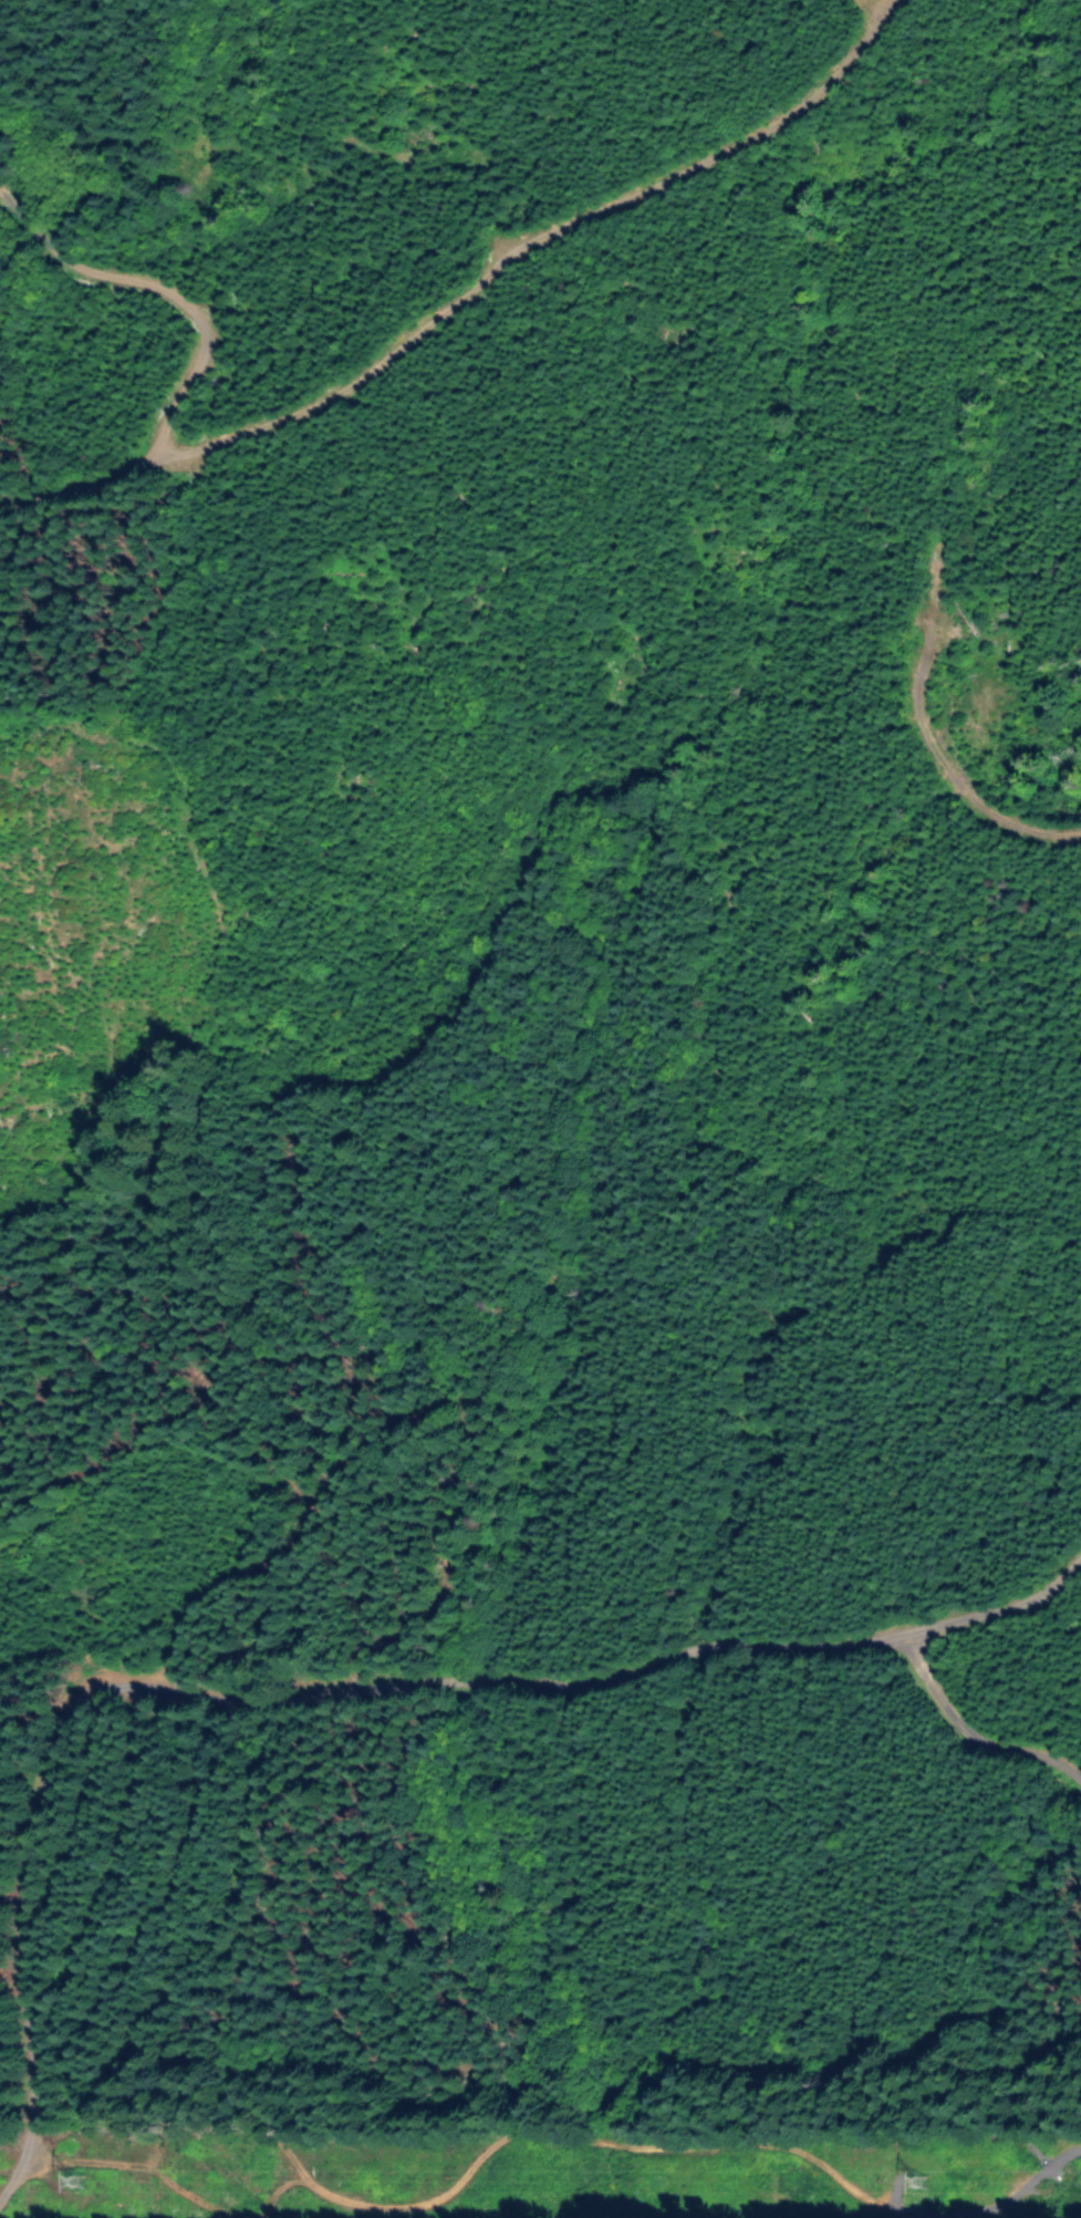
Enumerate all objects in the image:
road: (363, 340)
road: (396, 1693)
road: (998, 1707)
road: (167, 2084)
power tower: (74, 2177)
power tower: (916, 2179)

